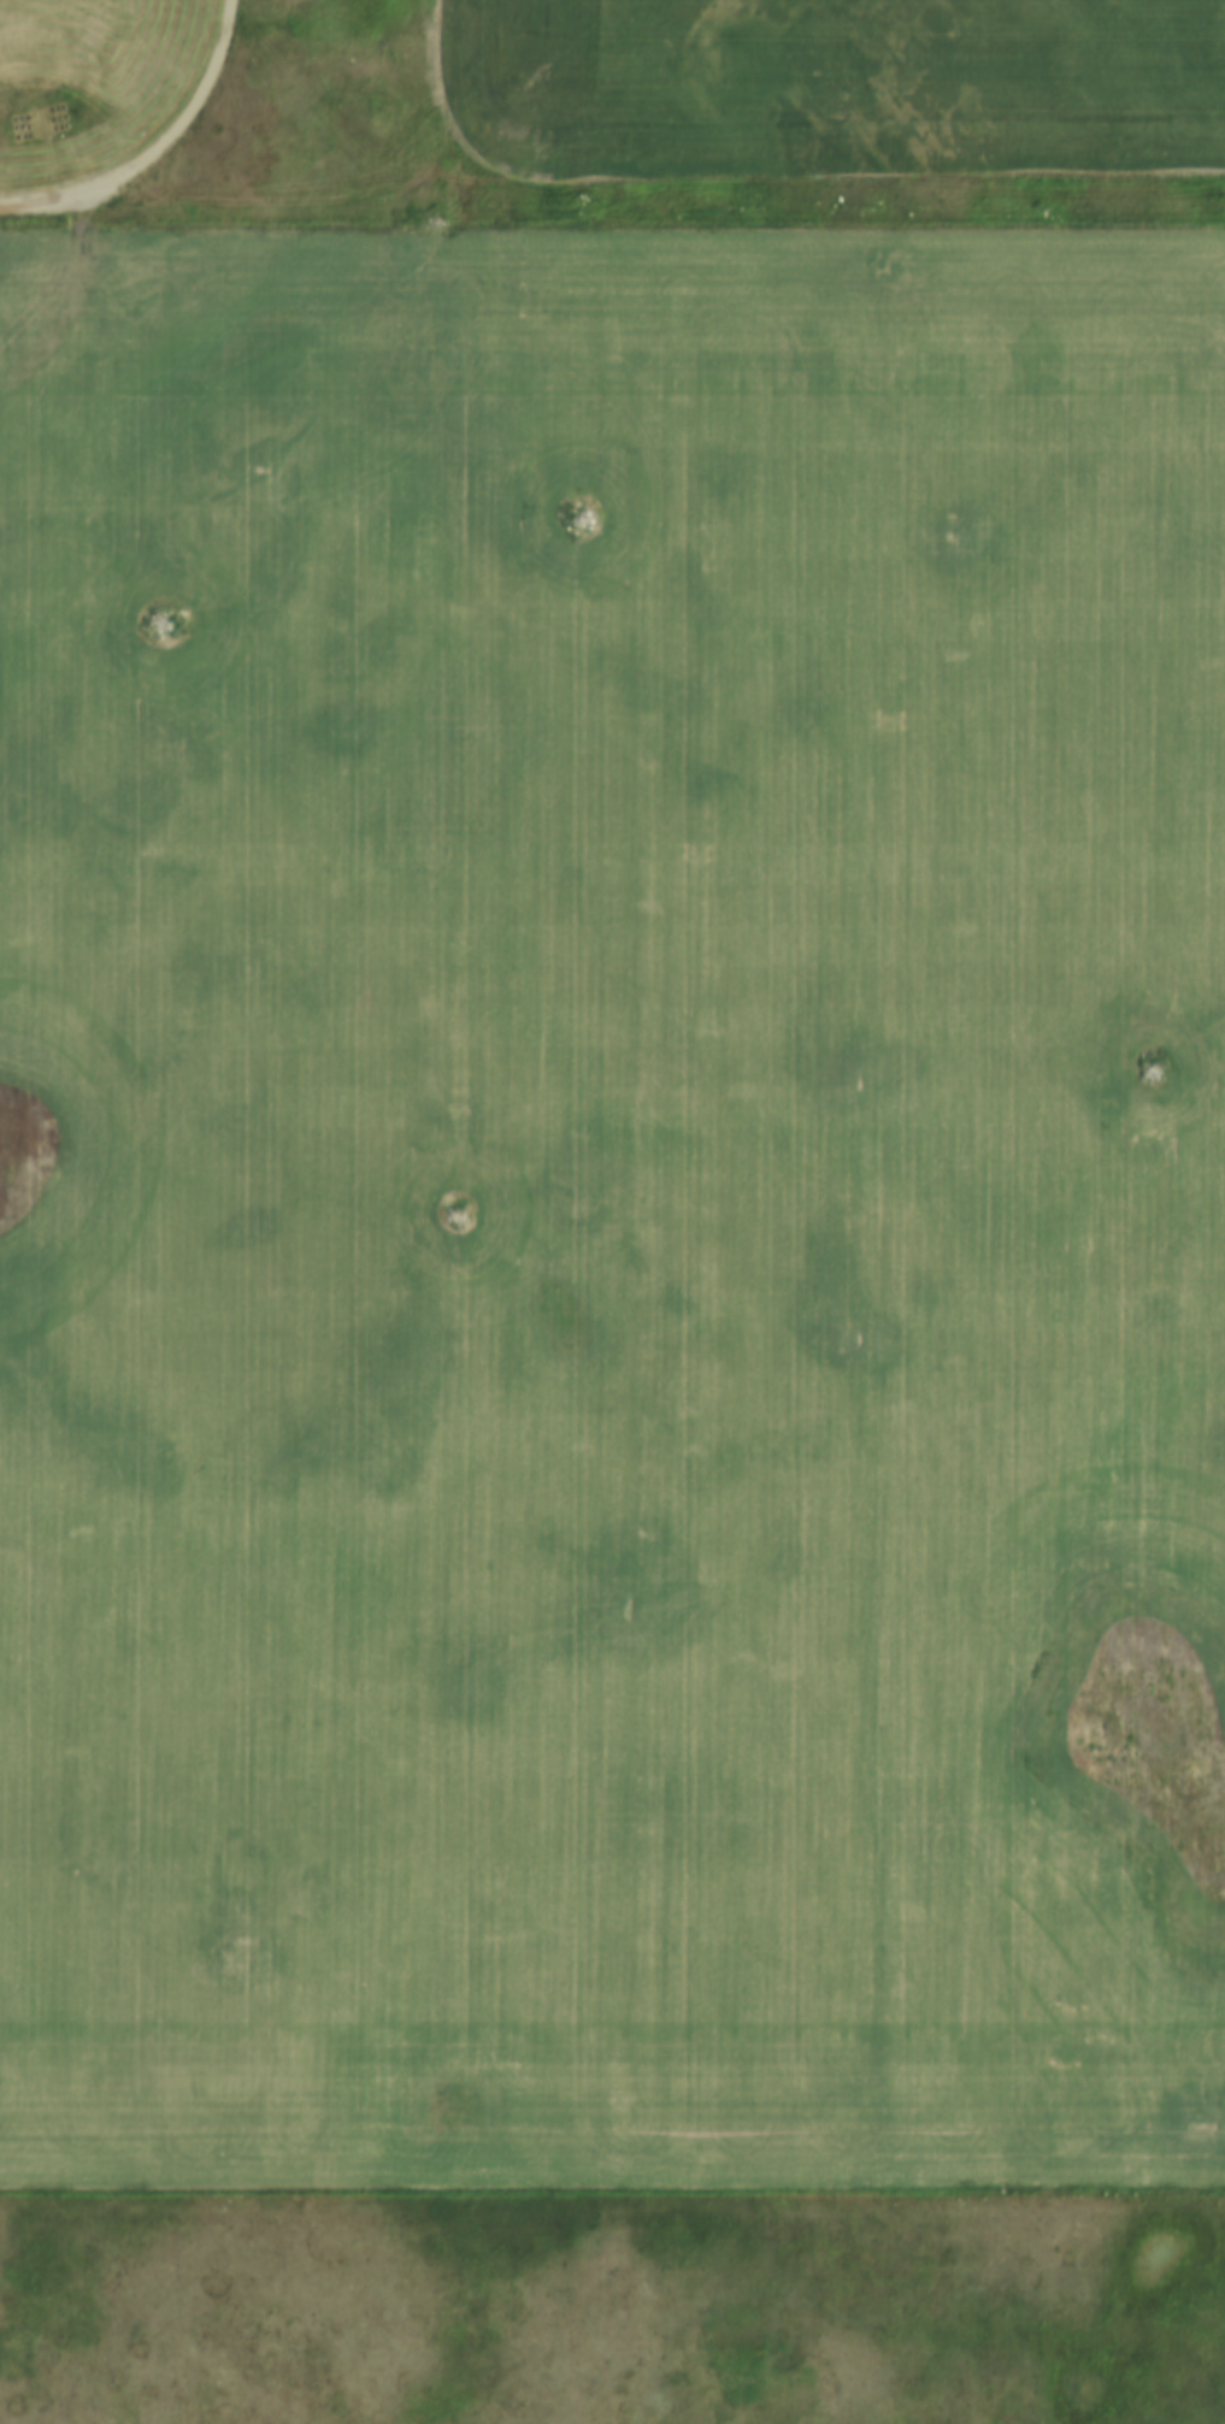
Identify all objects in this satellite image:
road: (446, 92)
road: (608, 197)
road: (612, 2202)

